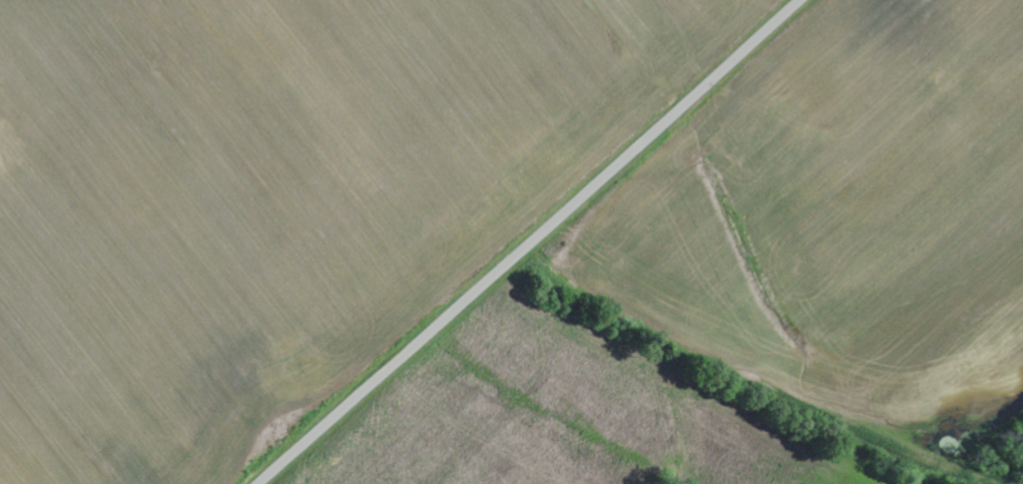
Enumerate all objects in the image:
road: (528, 243)

